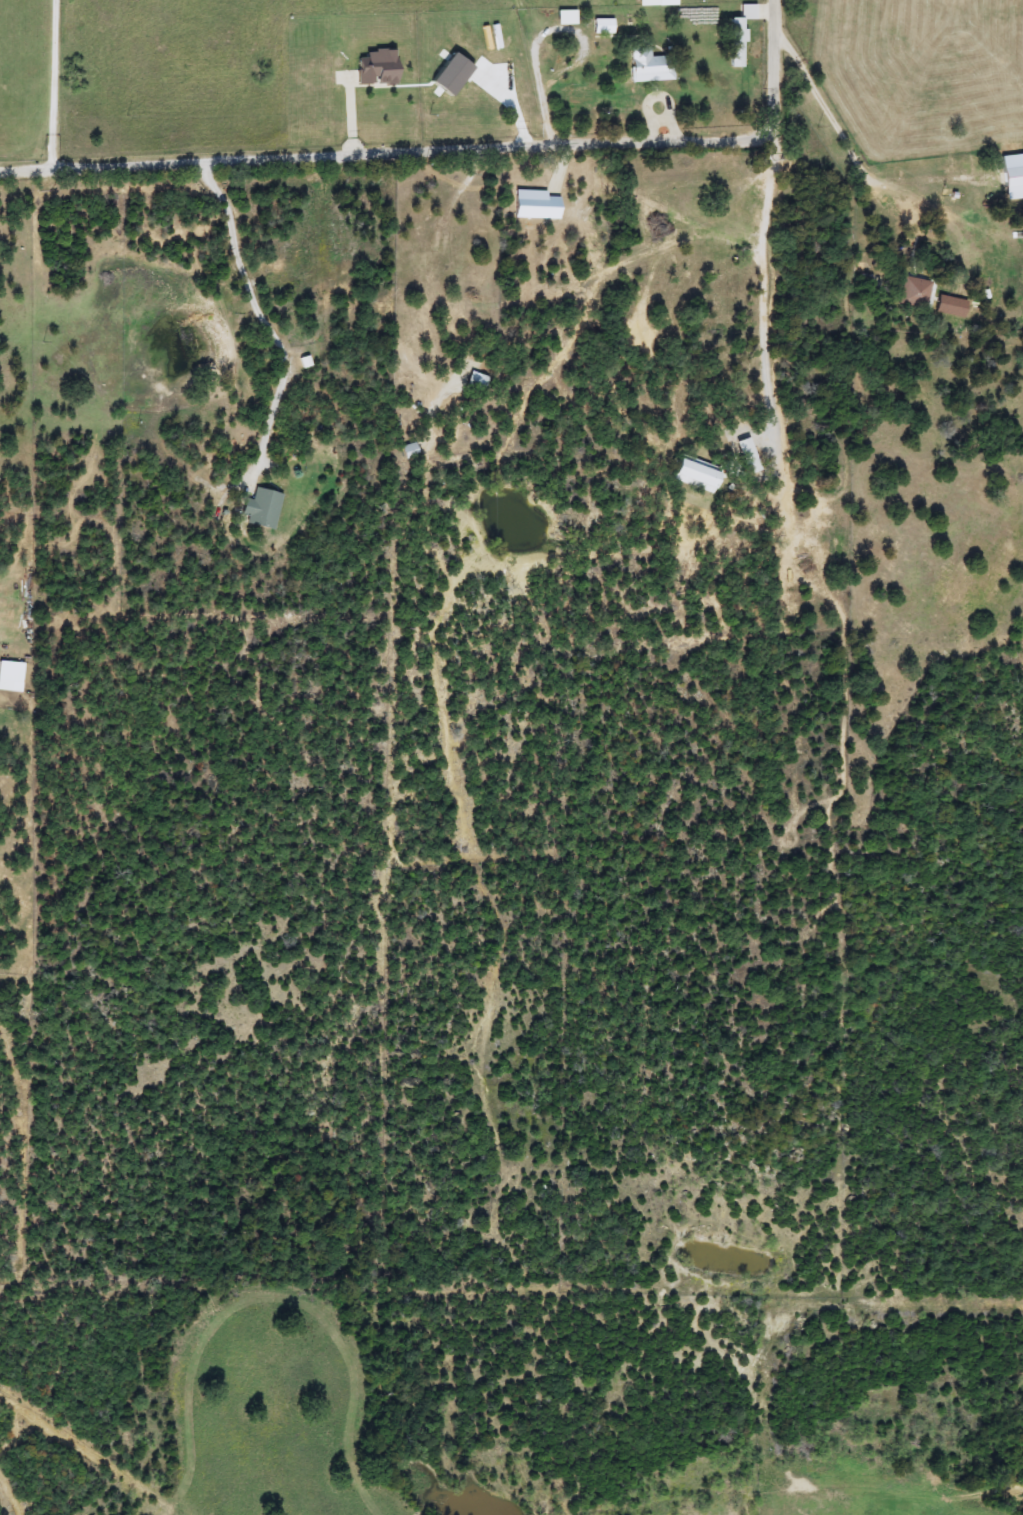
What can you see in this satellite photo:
road: (550, 21)
building: (604, 26)
building: (741, 32)
building: (650, 66)
road: (533, 71)
road: (50, 82)
road: (449, 143)
building: (1013, 183)
road: (766, 285)
building: (913, 293)
road: (261, 315)
building: (475, 384)
building: (410, 452)
building: (698, 474)
building: (262, 509)
building: (11, 676)

